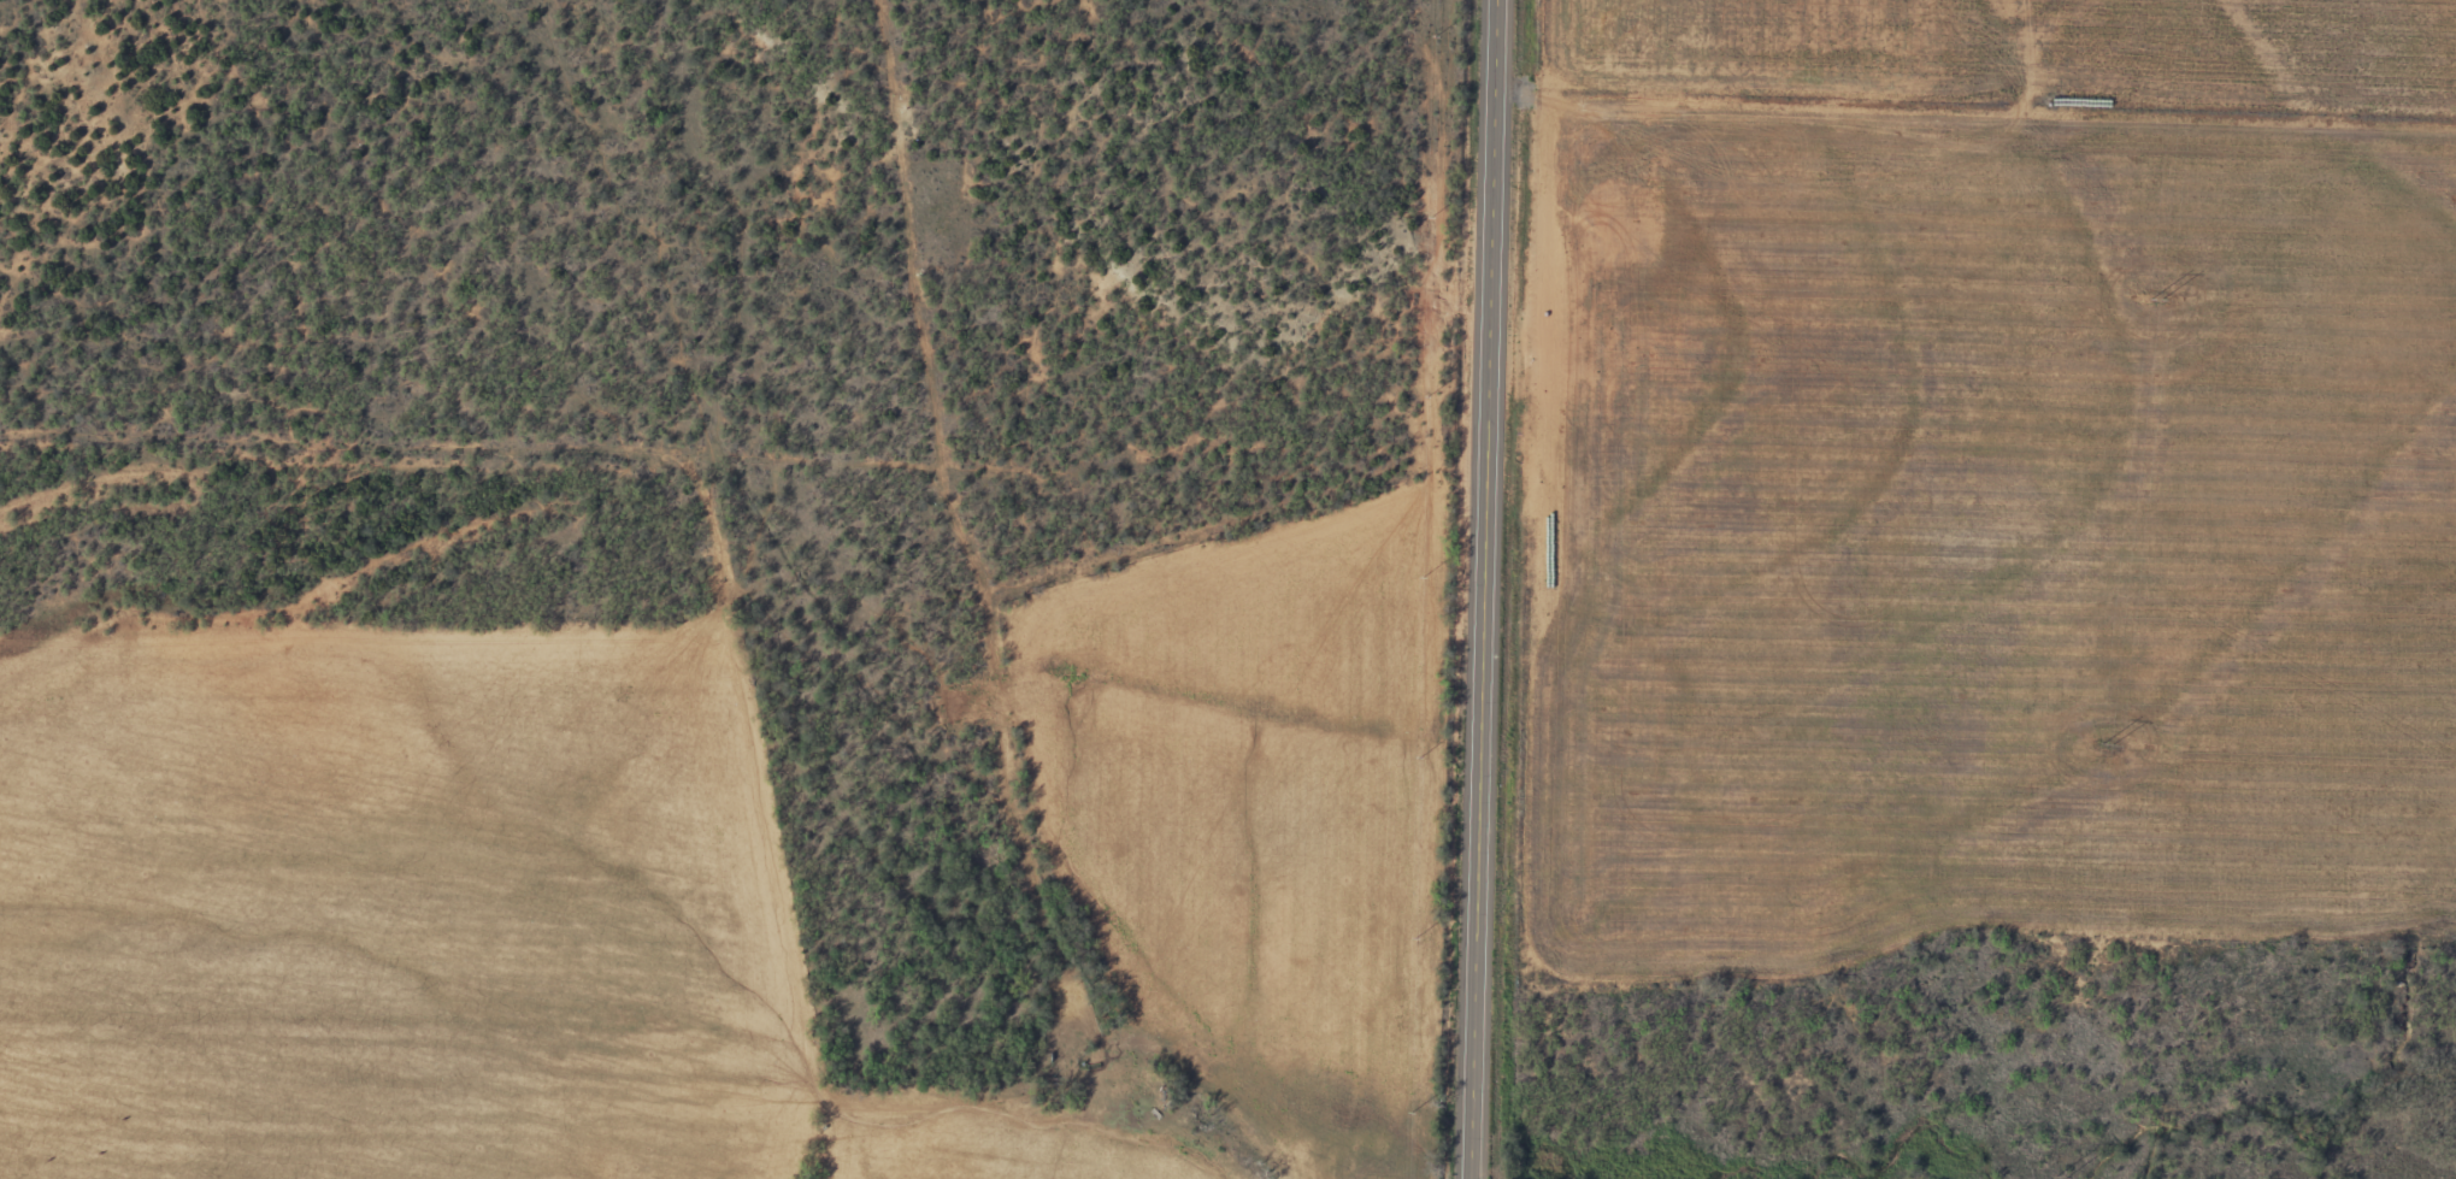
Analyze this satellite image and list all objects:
power tower: (2155, 299)
road: (1491, 589)
power tower: (2108, 743)
power tower: (2061, 1177)

